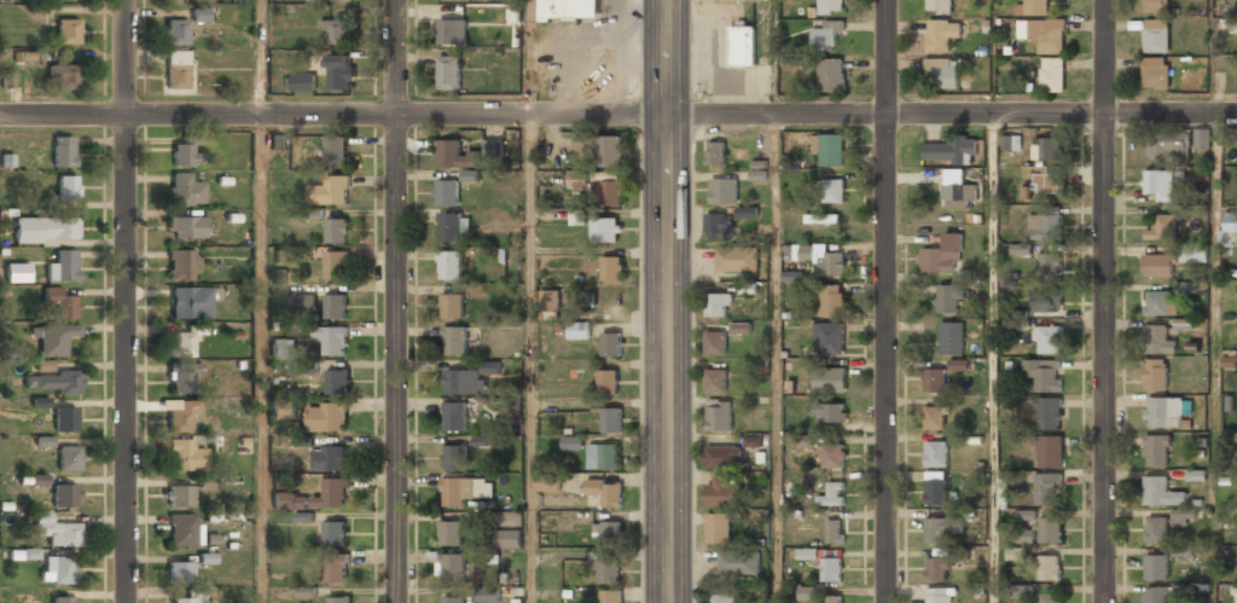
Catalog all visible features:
building: (830, 6)
building: (939, 6)
building: (1030, 6)
building: (1156, 6)
building: (568, 8)
building: (201, 15)
building: (1232, 23)
building: (68, 30)
building: (175, 31)
building: (337, 31)
building: (452, 31)
building: (941, 34)
building: (1043, 34)
building: (826, 35)
building: (1156, 35)
building: (712, 45)
building: (742, 46)
road: (261, 57)
road: (529, 57)
road: (992, 57)
building: (176, 69)
building: (341, 71)
building: (448, 71)
building: (943, 71)
building: (831, 74)
building: (1052, 74)
building: (1155, 74)
building: (64, 76)
building: (300, 82)
road: (617, 115)
building: (1202, 138)
building: (278, 143)
building: (1012, 143)
building: (1166, 144)
building: (493, 147)
building: (602, 147)
building: (1046, 149)
building: (336, 150)
building: (830, 150)
building: (948, 150)
building: (63, 151)
building: (186, 151)
building: (716, 153)
building: (455, 156)
building: (577, 179)
building: (1047, 181)
building: (1158, 182)
building: (957, 186)
building: (68, 187)
building: (184, 189)
building: (331, 190)
building: (724, 190)
building: (832, 190)
building: (446, 191)
building: (608, 192)
building: (747, 211)
building: (312, 214)
building: (579, 216)
building: (821, 218)
building: (1235, 221)
building: (186, 226)
building: (718, 226)
building: (1044, 226)
building: (451, 227)
building: (1161, 227)
building: (605, 228)
building: (46, 230)
building: (337, 230)
building: (1021, 248)
building: (1194, 254)
building: (942, 255)
building: (737, 259)
building: (823, 259)
building: (1049, 262)
building: (336, 263)
building: (180, 265)
building: (449, 265)
building: (1158, 265)
building: (63, 266)
building: (611, 267)
building: (17, 273)
building: (947, 297)
building: (551, 300)
building: (831, 300)
building: (1046, 300)
road: (126, 301)
building: (303, 301)
road: (396, 301)
road: (668, 301)
road: (887, 301)
road: (1104, 301)
building: (190, 302)
building: (1156, 302)
building: (60, 303)
building: (335, 305)
building: (452, 305)
building: (719, 305)
building: (739, 327)
building: (579, 330)
building: (332, 336)
building: (951, 337)
building: (829, 338)
building: (1049, 338)
building: (1157, 338)
building: (54, 340)
building: (455, 340)
building: (715, 341)
building: (182, 343)
building: (611, 343)
building: (283, 348)
road: (260, 358)
road: (530, 358)
road: (992, 358)
road: (1215, 358)
road: (776, 359)
building: (958, 364)
building: (43, 365)
building: (308, 367)
building: (490, 367)
building: (1044, 372)
building: (1155, 373)
building: (184, 378)
building: (830, 378)
building: (337, 379)
building: (715, 379)
building: (934, 379)
building: (464, 381)
building: (608, 382)
building: (53, 383)
building: (40, 402)
building: (283, 408)
building: (831, 411)
building: (1047, 411)
building: (1162, 411)
building: (719, 413)
building: (326, 416)
building: (455, 416)
building: (181, 417)
building: (934, 417)
building: (64, 419)
building: (611, 419)
building: (40, 441)
building: (754, 441)
building: (573, 442)
building: (1050, 450)
building: (1156, 450)
building: (936, 453)
building: (1236, 453)
building: (185, 456)
building: (603, 456)
building: (722, 456)
building: (832, 456)
building: (454, 457)
building: (69, 458)
building: (329, 458)
building: (39, 480)
building: (548, 482)
building: (1046, 487)
building: (935, 489)
building: (457, 491)
building: (1160, 491)
building: (331, 492)
building: (605, 492)
building: (721, 492)
building: (832, 493)
building: (65, 495)
building: (178, 497)
building: (290, 500)
building: (1026, 515)
building: (1184, 515)
building: (718, 527)
building: (610, 528)
building: (941, 528)
building: (1050, 528)
building: (1156, 528)
building: (184, 529)
building: (335, 529)
building: (835, 529)
building: (57, 530)
building: (451, 533)
building: (1017, 535)
building: (509, 538)
building: (737, 562)
building: (452, 564)
building: (336, 566)
building: (1156, 566)
building: (832, 567)
building: (937, 567)
building: (1050, 567)
building: (605, 568)
building: (57, 570)
building: (180, 573)
building: (807, 592)
building: (1181, 592)
building: (488, 595)
building: (937, 595)
building: (1156, 595)
building: (611, 596)
building: (722, 598)
building: (834, 598)
building: (1051, 598)
building: (1236, 598)
building: (63, 599)
building: (187, 599)
building: (338, 599)
building: (452, 599)

